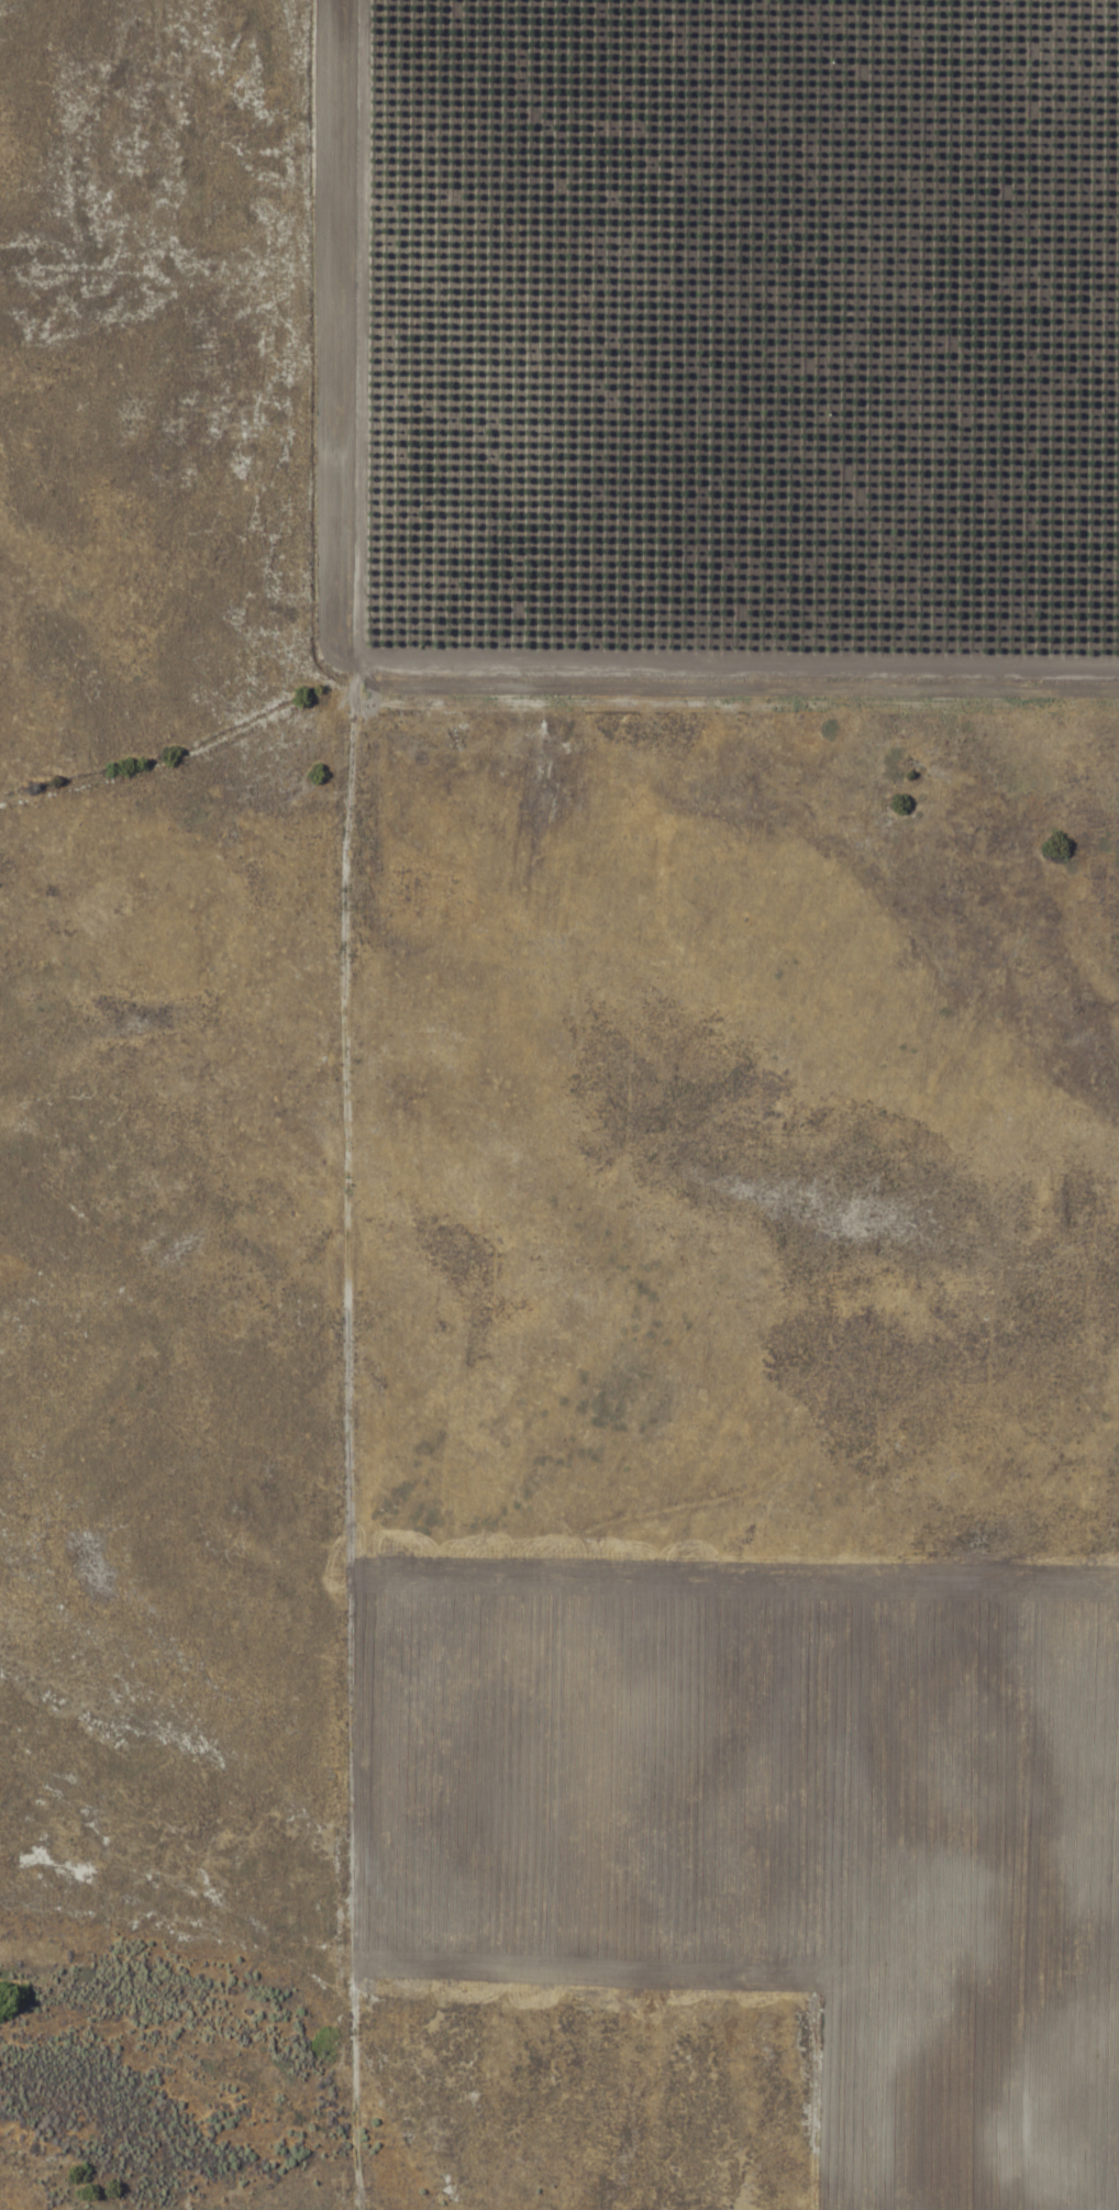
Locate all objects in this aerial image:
road: (321, 311)

